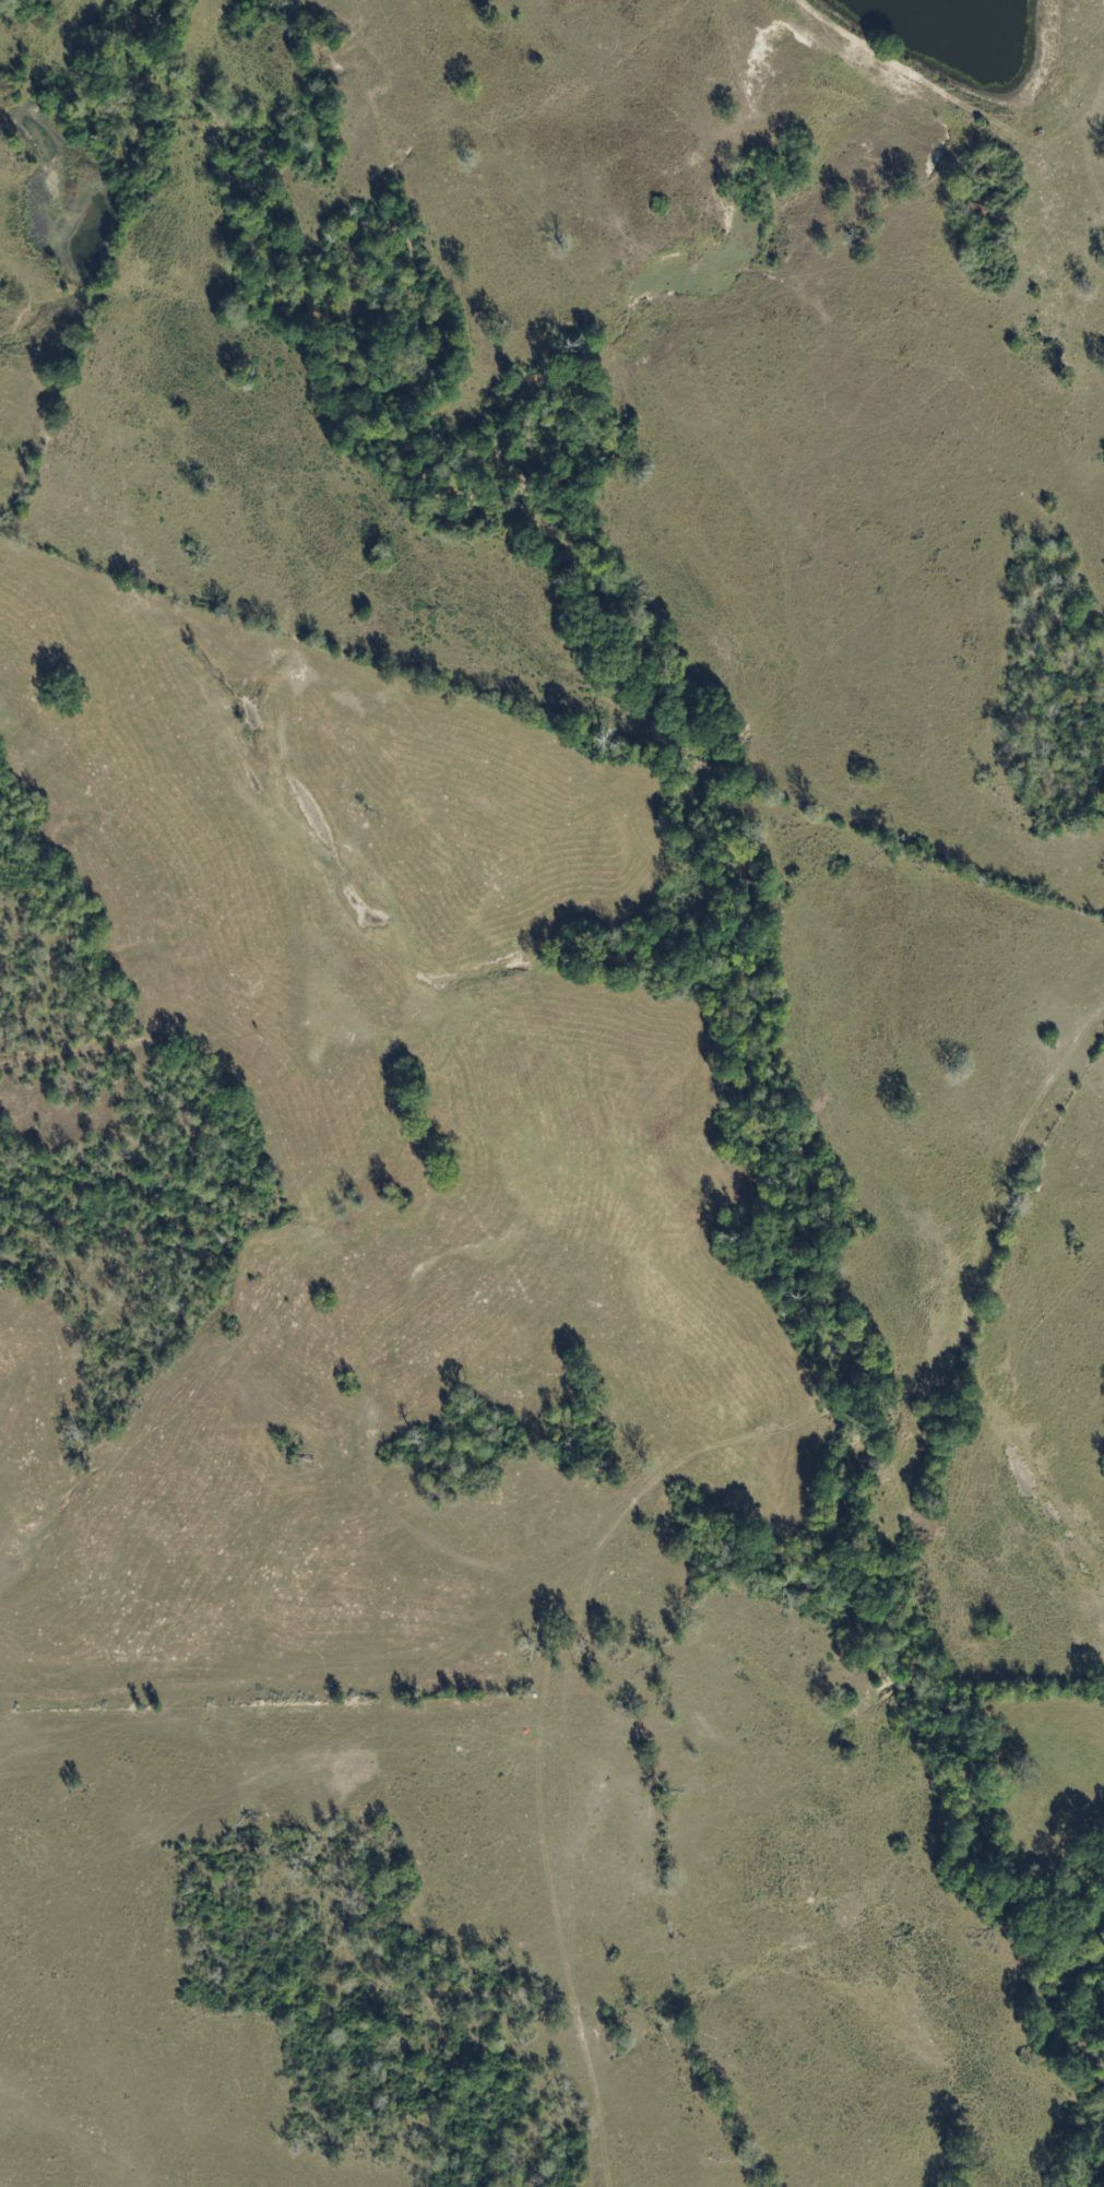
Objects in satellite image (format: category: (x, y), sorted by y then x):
dam: (898, 56)

